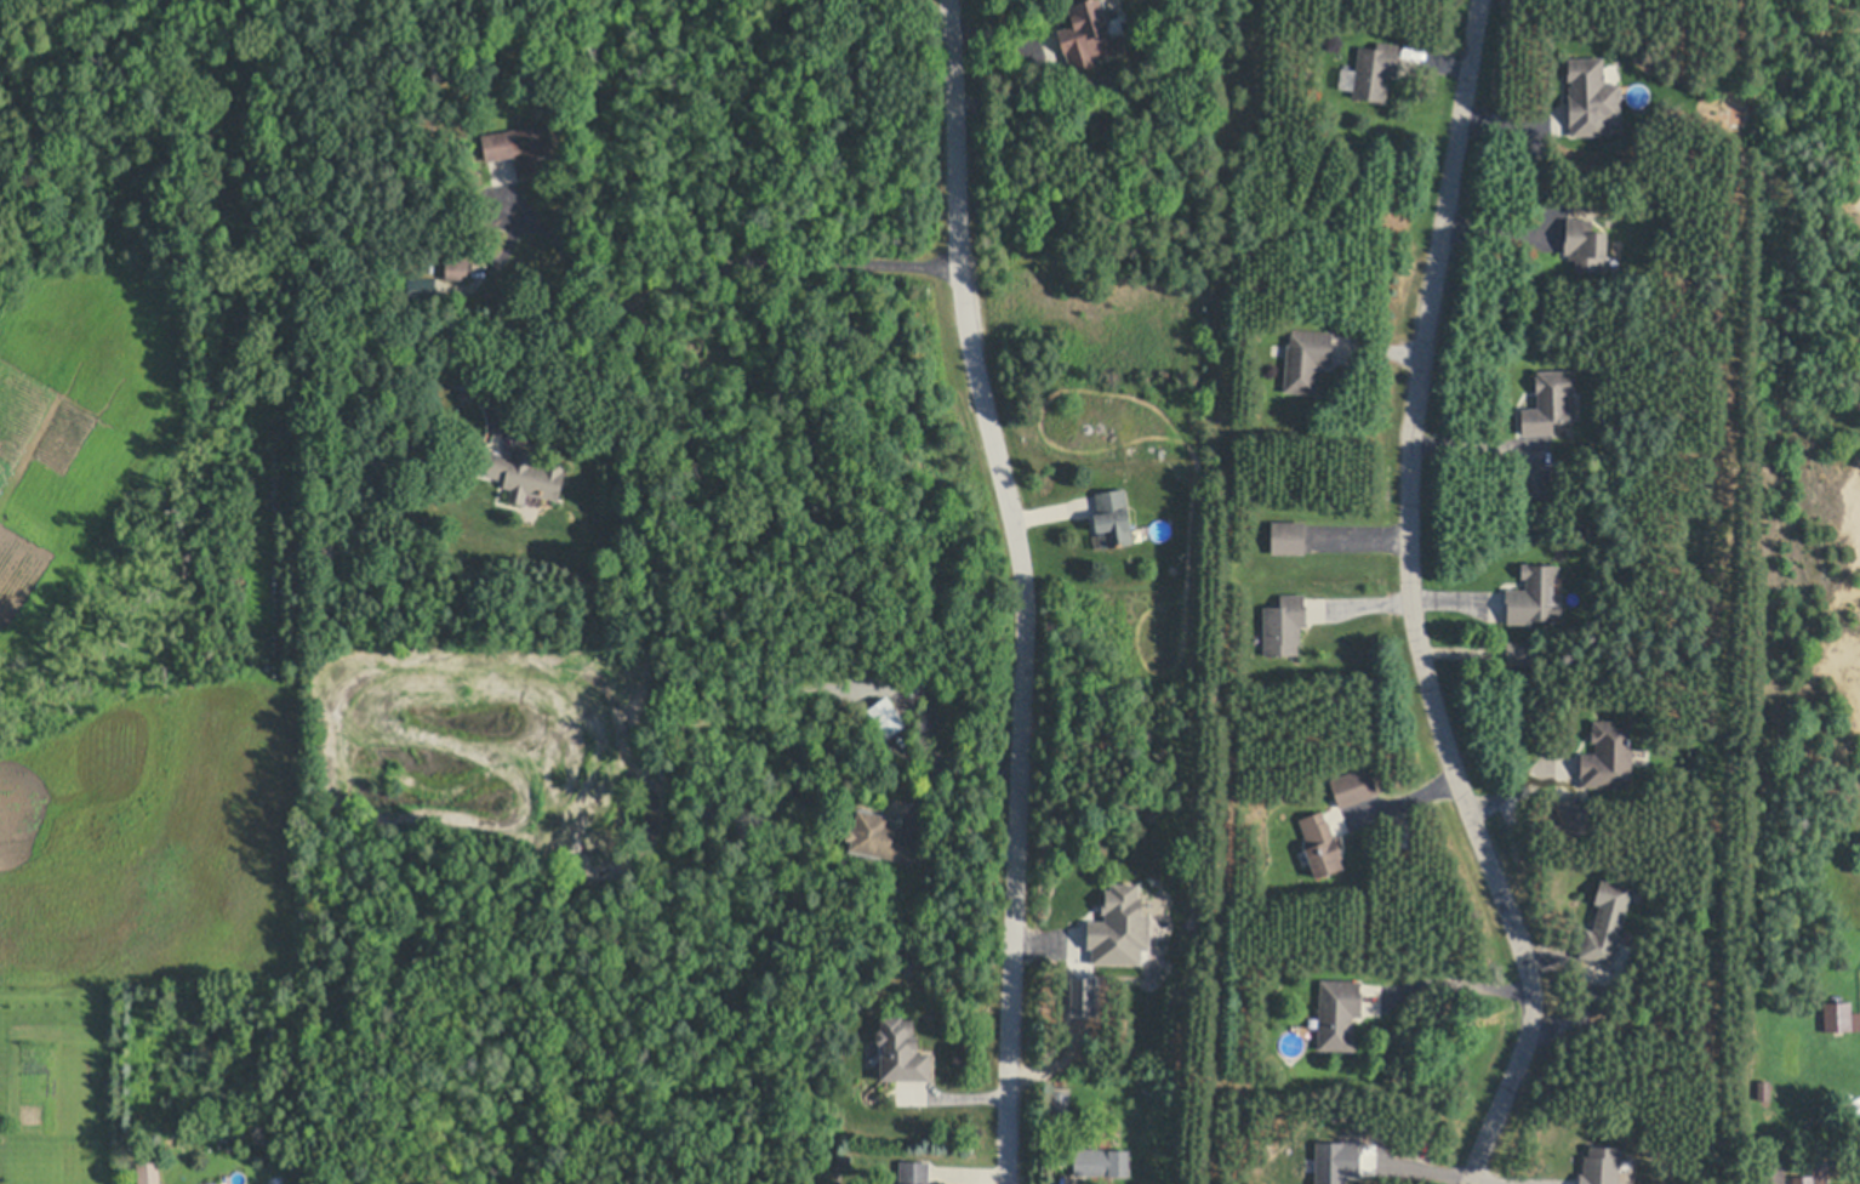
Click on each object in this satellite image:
building: (1090, 38)
building: (1375, 72)
building: (1592, 98)
building: (523, 149)
building: (1586, 243)
road: (715, 262)
building: (457, 271)
building: (423, 286)
road: (543, 349)
building: (1307, 360)
building: (1550, 403)
building: (524, 473)
building: (1536, 483)
building: (1113, 518)
building: (627, 524)
building: (1289, 540)
road: (1025, 588)
building: (1536, 598)
road: (1414, 604)
building: (1285, 624)
building: (1519, 654)
building: (885, 718)
building: (1609, 757)
building: (1354, 787)
building: (1574, 819)
building: (880, 841)
building: (1320, 846)
building: (1608, 924)
building: (1120, 926)
building: (1080, 997)
building: (1340, 1011)
building: (1836, 1017)
building: (901, 1052)
building: (1764, 1091)
building: (1060, 1104)
building: (1101, 1161)
building: (844, 1162)
building: (1334, 1162)
building: (1602, 1167)
building: (914, 1172)
building: (1771, 1172)
building: (148, 1173)
building: (1803, 1178)
building: (1852, 1183)

